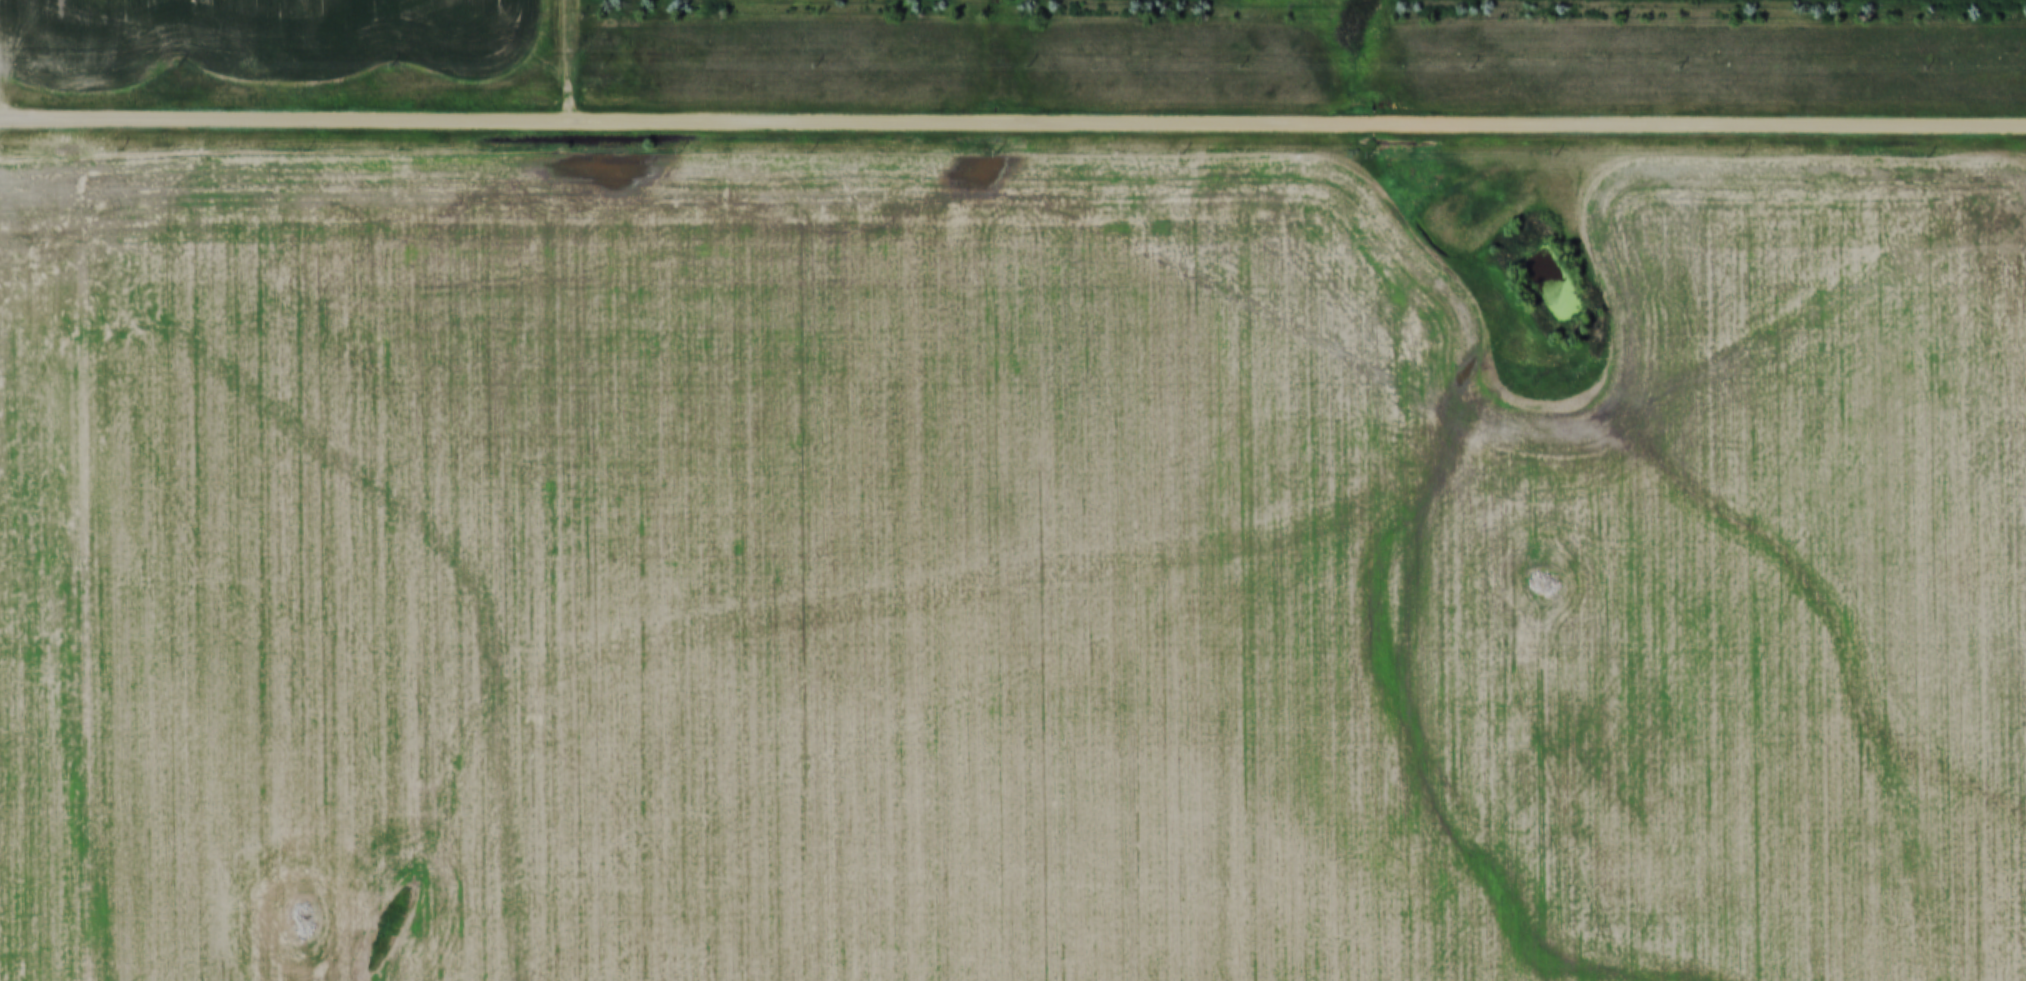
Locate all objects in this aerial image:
road: (1012, 126)

